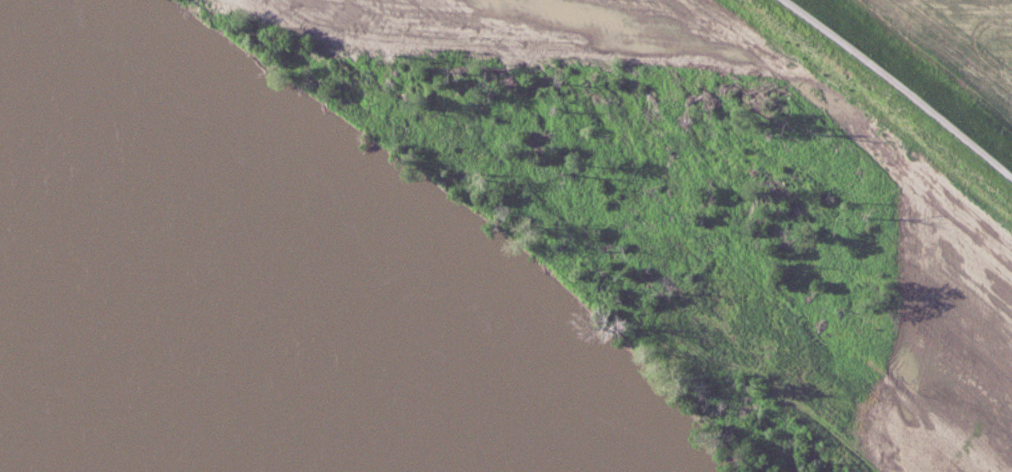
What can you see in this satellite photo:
road: (898, 88)
river: (183, 348)

